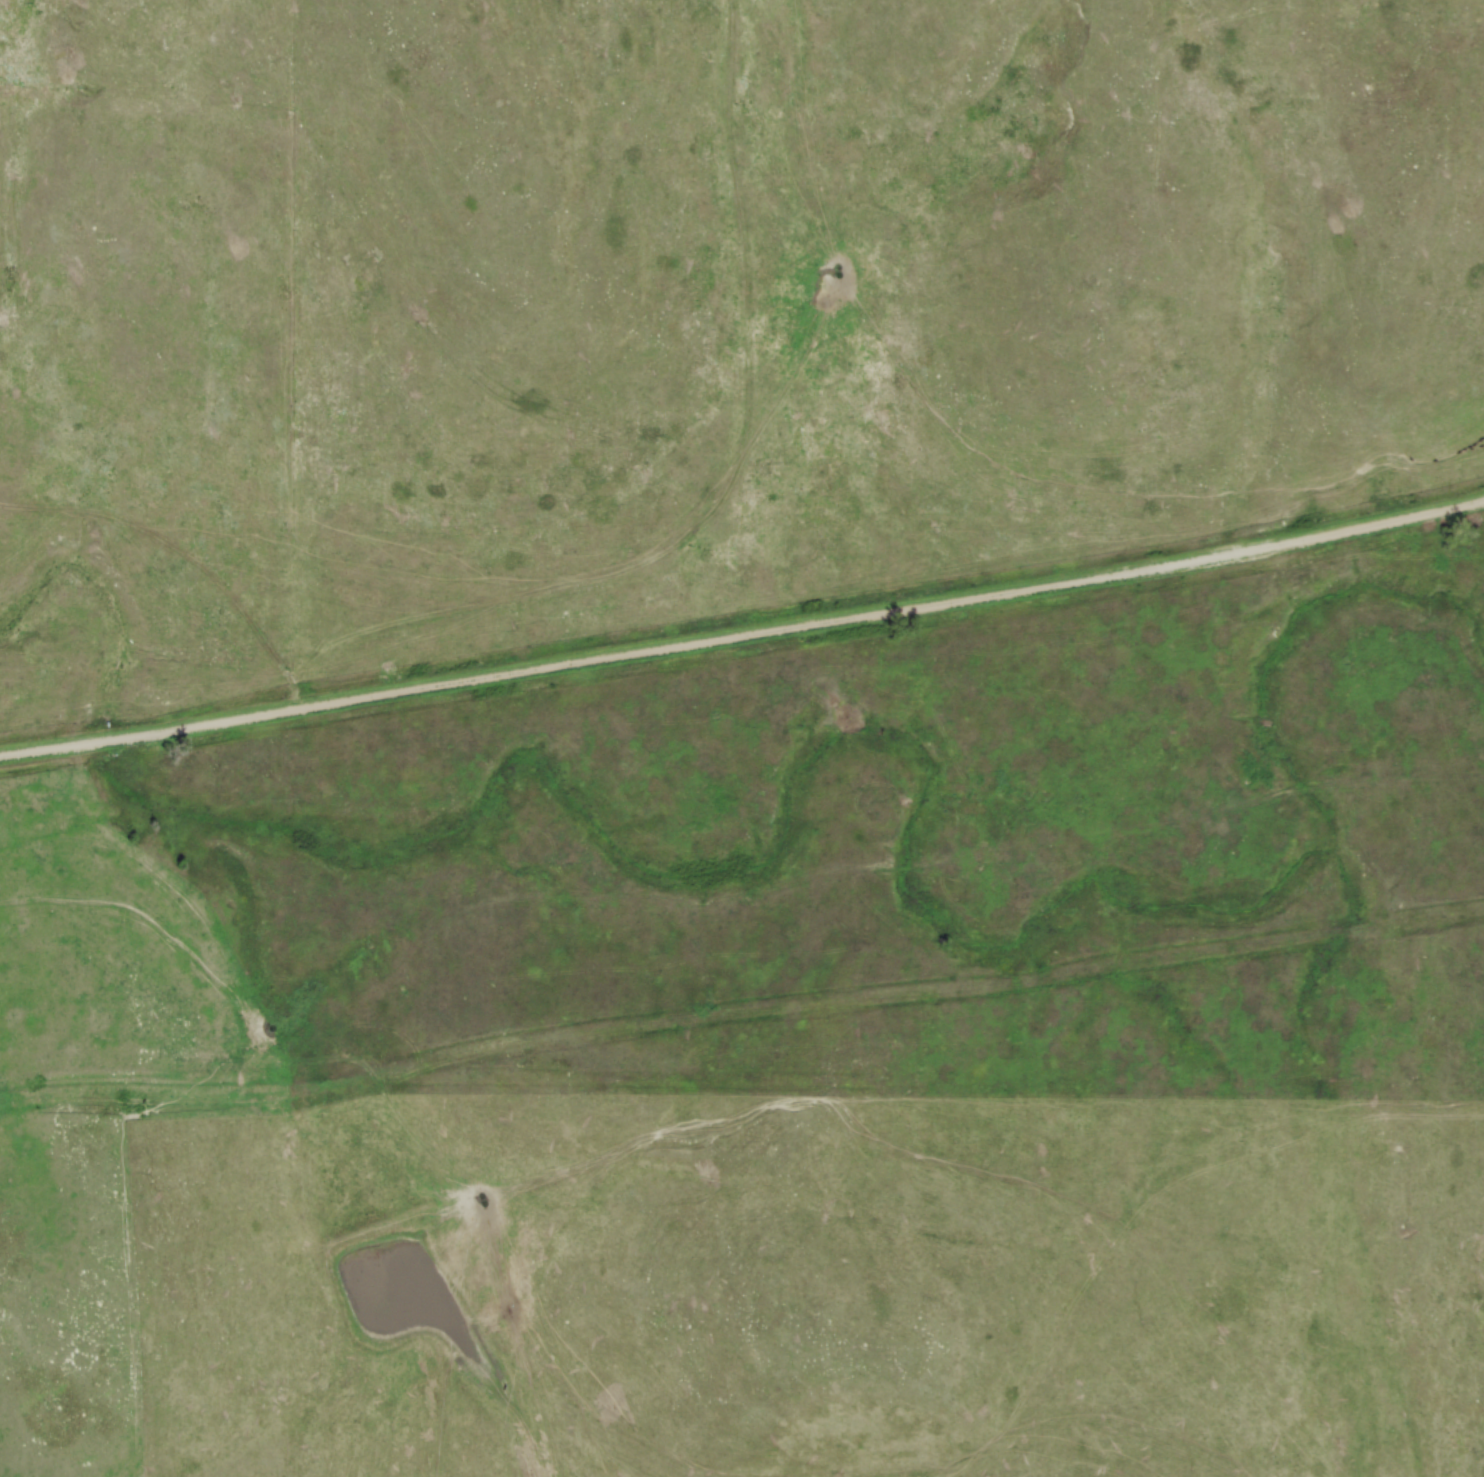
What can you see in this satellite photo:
road: (743, 636)

